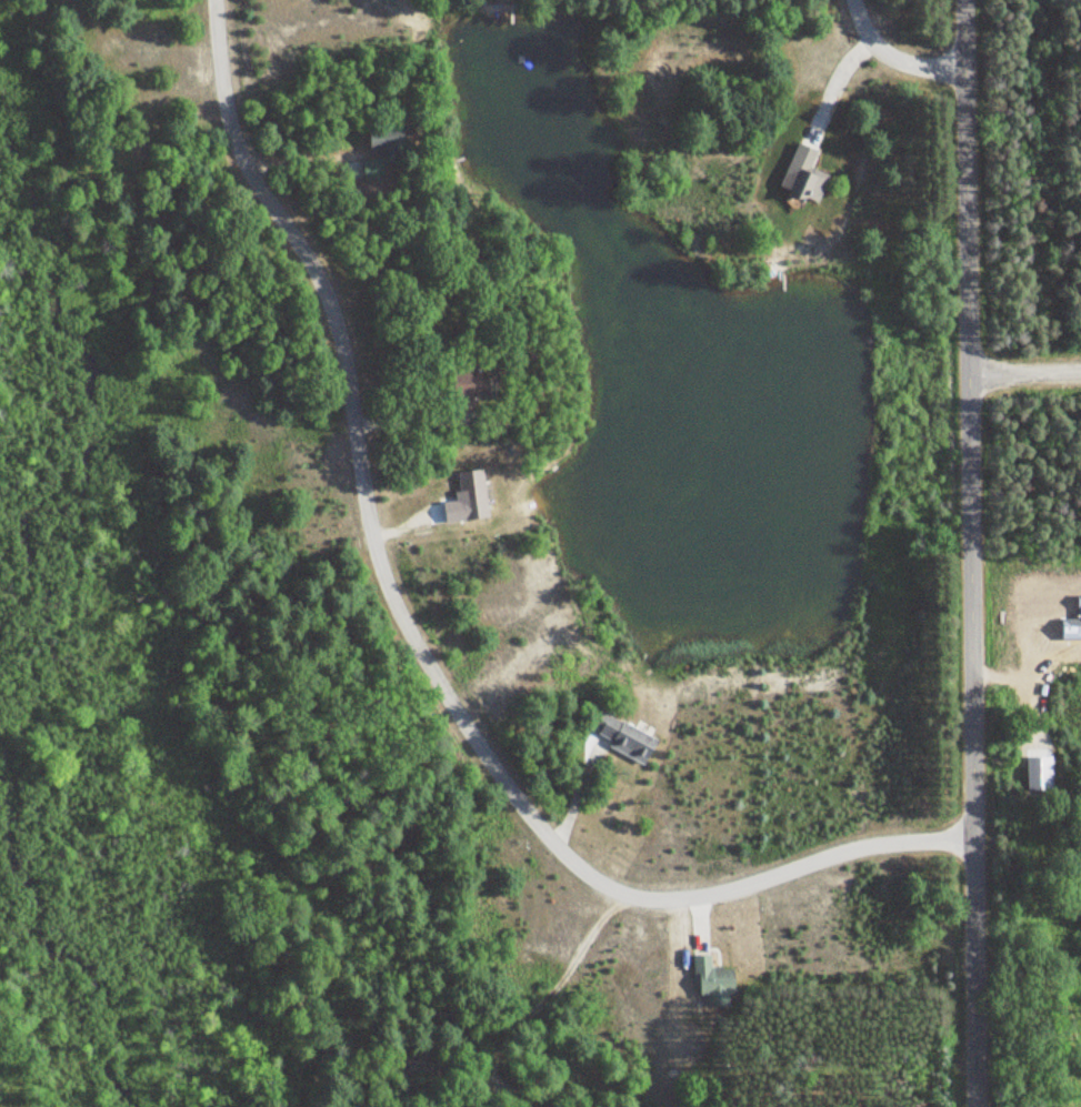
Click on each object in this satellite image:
road: (897, 58)
building: (804, 171)
road: (1024, 374)
building: (480, 388)
building: (476, 495)
road: (970, 553)
road: (417, 644)
building: (628, 736)
road: (1028, 890)
building: (715, 976)

